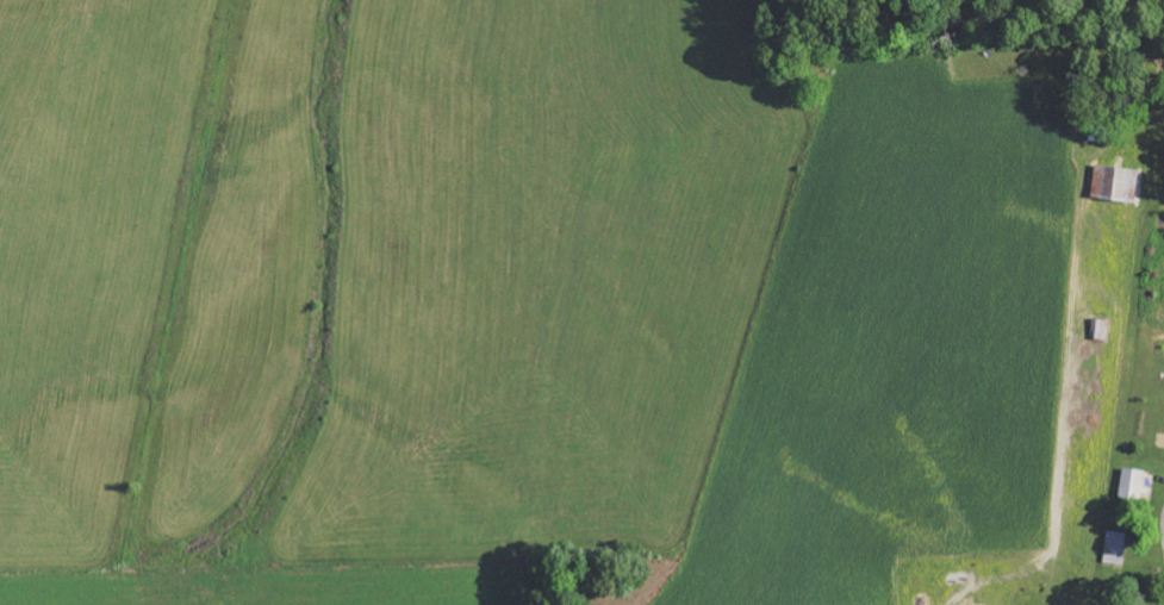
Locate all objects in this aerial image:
building: (1115, 183)
building: (1137, 481)
building: (1115, 548)

